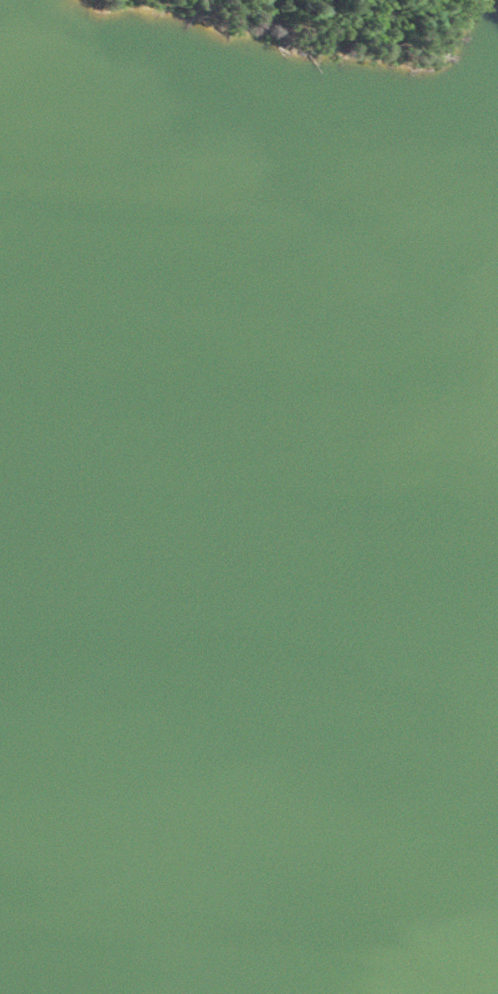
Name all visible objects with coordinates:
river: (249, 331)

